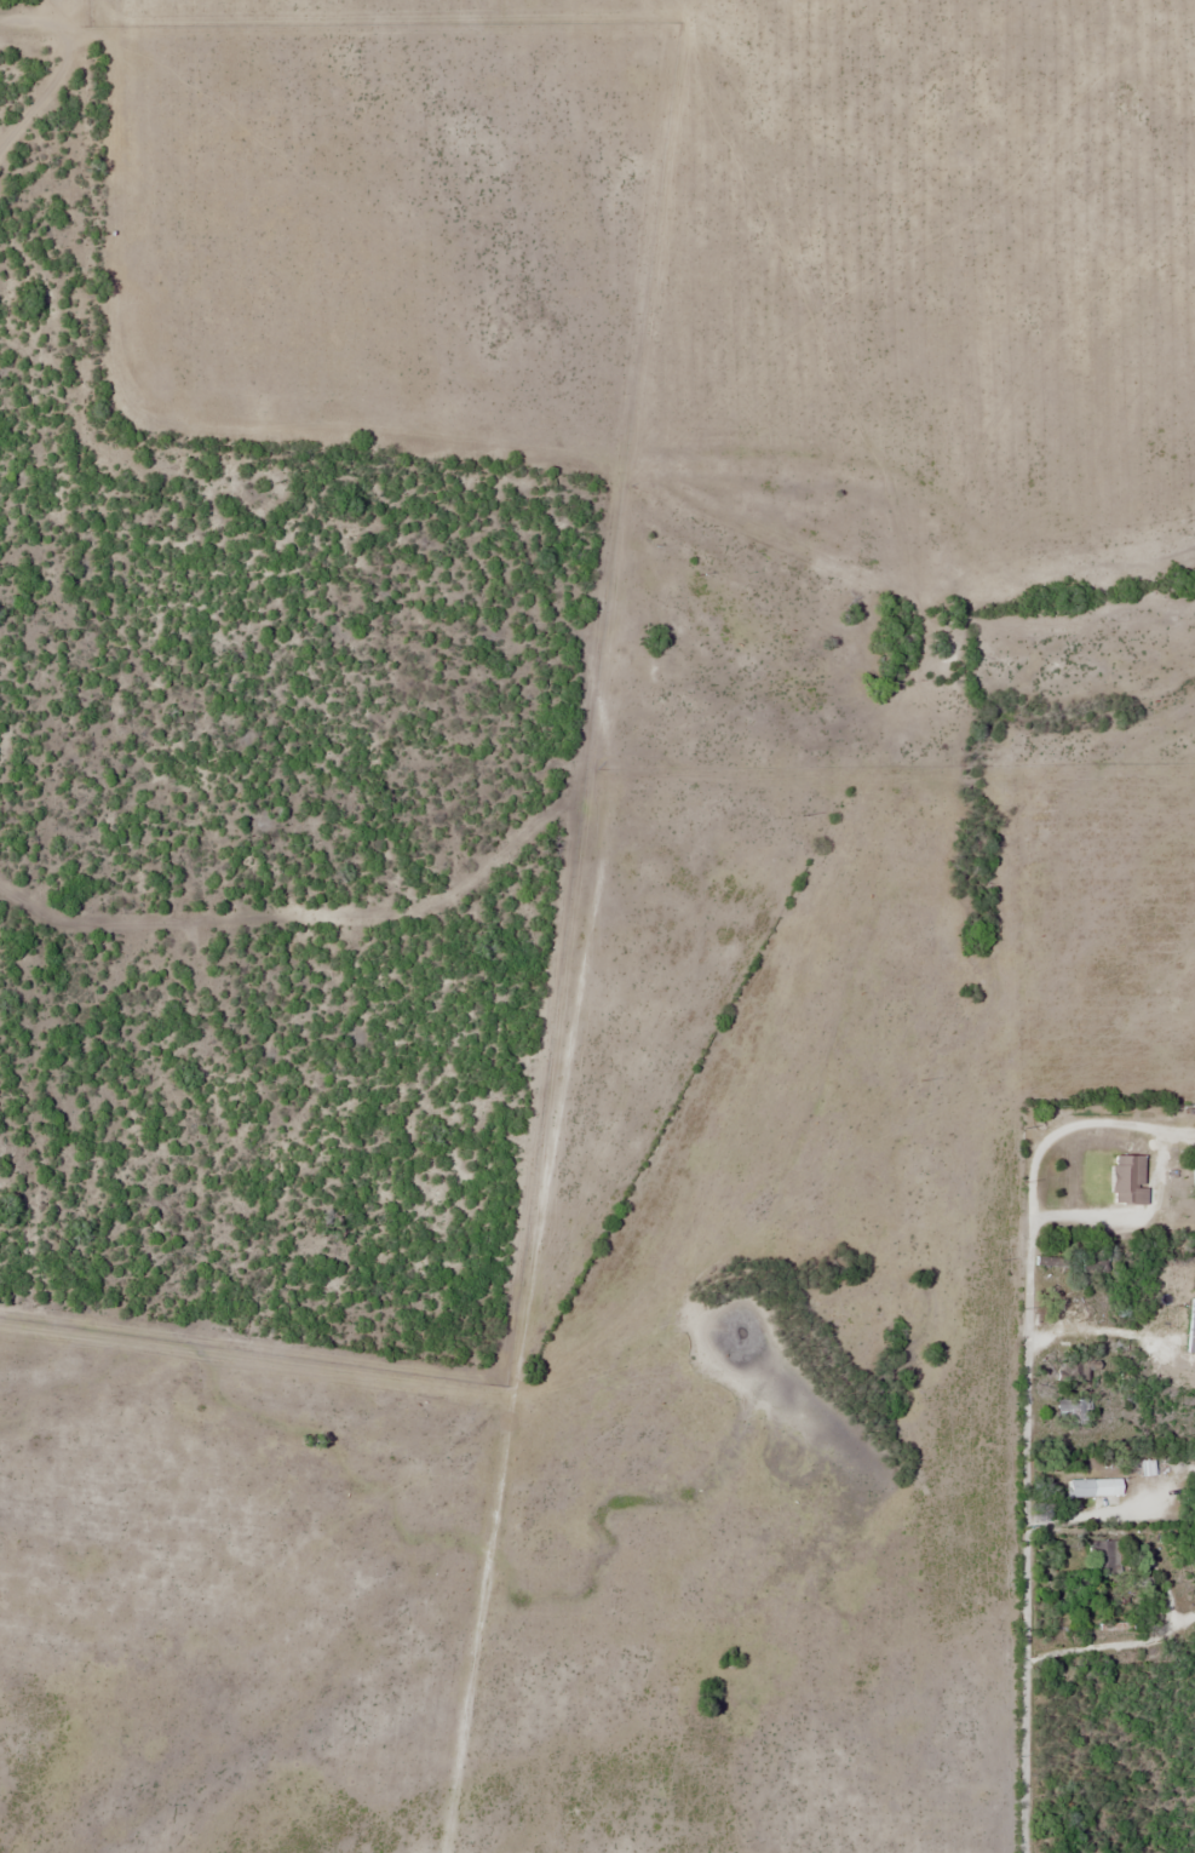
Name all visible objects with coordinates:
building: (1193, 1171)
building: (1162, 1184)
building: (1191, 1332)
building: (1069, 1404)
building: (1093, 1487)
road: (1029, 1539)
building: (1102, 1557)

